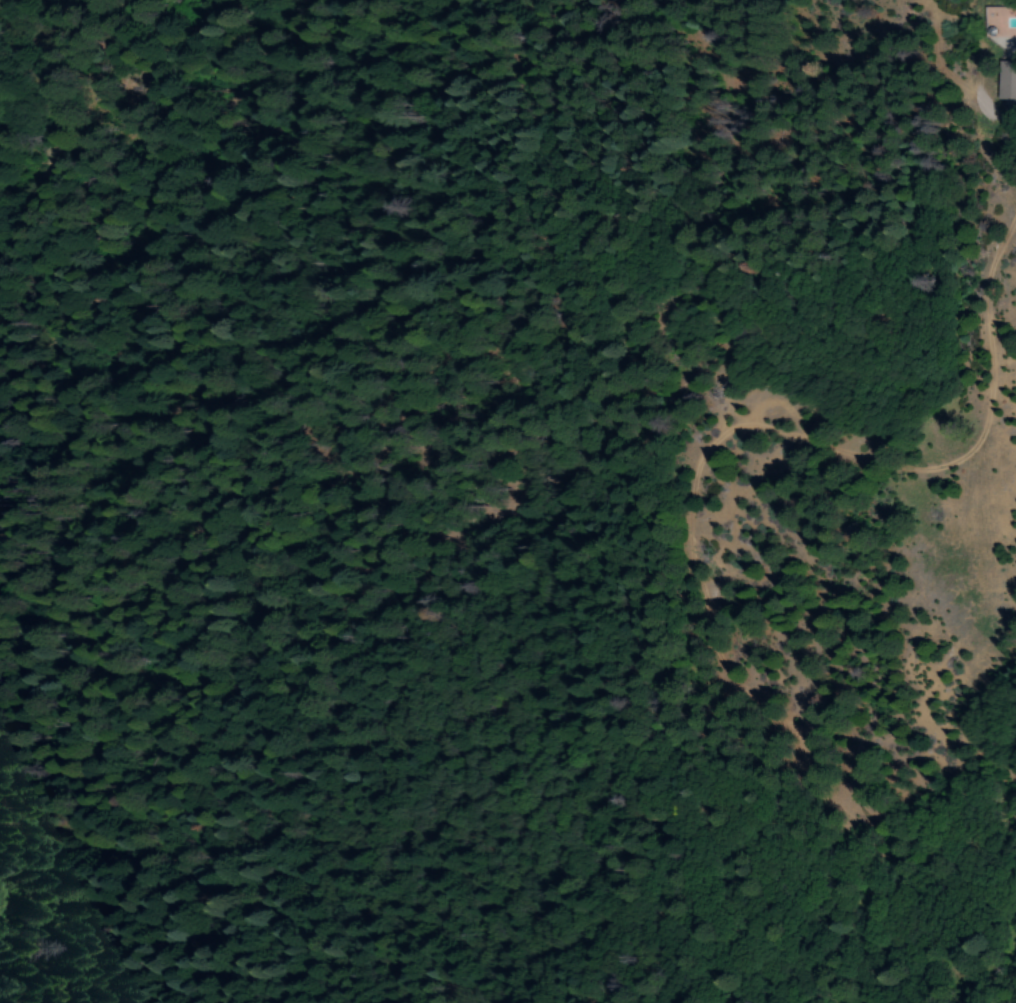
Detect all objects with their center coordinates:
building: (1006, 85)

